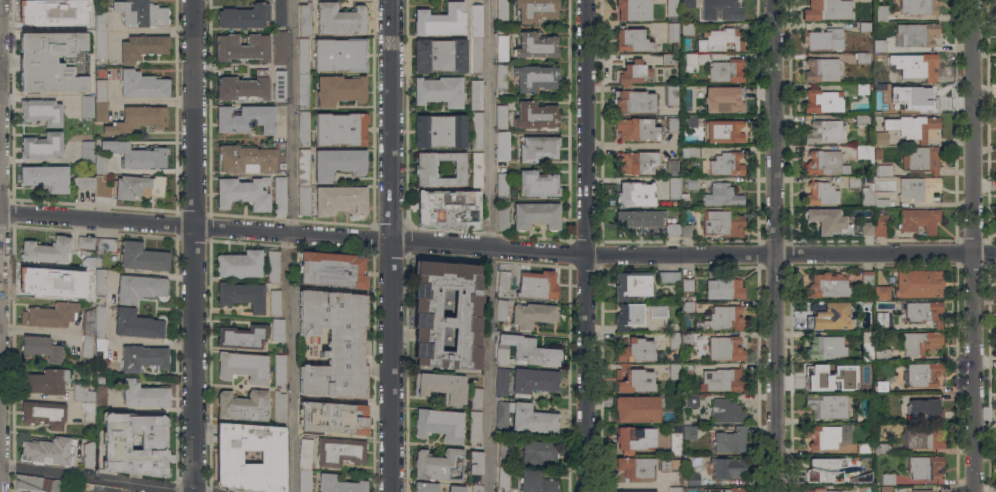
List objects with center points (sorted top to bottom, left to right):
building: (658, 0)
building: (865, 1)
building: (687, 3)
building: (915, 6)
building: (671, 8)
building: (633, 9)
building: (721, 9)
building: (536, 10)
building: (827, 10)
building: (46, 11)
building: (502, 11)
building: (280, 12)
building: (881, 12)
building: (140, 13)
building: (244, 16)
building: (88, 17)
building: (305, 19)
building: (340, 19)
building: (440, 20)
building: (100, 21)
building: (476, 21)
building: (864, 26)
building: (687, 29)
building: (672, 32)
building: (916, 34)
building: (719, 39)
building: (824, 39)
building: (633, 40)
building: (100, 44)
building: (880, 44)
building: (536, 45)
building: (141, 47)
building: (243, 47)
building: (279, 48)
building: (501, 48)
building: (340, 54)
building: (304, 55)
building: (439, 55)
building: (476, 55)
building: (862, 58)
building: (667, 59)
building: (53, 62)
building: (691, 62)
building: (920, 67)
building: (821, 69)
building: (726, 70)
building: (632, 72)
building: (882, 76)
building: (535, 77)
building: (501, 78)
building: (142, 85)
building: (279, 85)
building: (242, 88)
building: (864, 88)
building: (698, 89)
building: (99, 90)
building: (304, 90)
building: (340, 90)
building: (439, 91)
building: (671, 94)
building: (476, 95)
building: (920, 96)
building: (633, 100)
building: (823, 100)
building: (730, 101)
building: (86, 107)
building: (881, 108)
building: (100, 111)
building: (41, 112)
road: (196, 113)
building: (535, 115)
road: (292, 117)
building: (500, 117)
building: (138, 119)
building: (252, 119)
building: (861, 119)
road: (392, 121)
building: (691, 121)
building: (672, 124)
building: (911, 126)
road: (774, 127)
road: (975, 127)
building: (341, 128)
road: (587, 128)
building: (304, 129)
building: (477, 129)
building: (637, 129)
building: (439, 130)
building: (724, 131)
building: (825, 131)
building: (881, 138)
building: (502, 145)
building: (41, 146)
building: (537, 148)
building: (86, 151)
building: (690, 152)
building: (864, 152)
building: (136, 154)
building: (253, 158)
building: (920, 159)
building: (100, 162)
building: (637, 162)
building: (825, 162)
building: (338, 163)
building: (726, 164)
building: (303, 166)
building: (672, 167)
building: (424, 169)
building: (477, 169)
building: (882, 170)
building: (45, 177)
building: (853, 181)
building: (84, 182)
building: (538, 183)
building: (691, 183)
building: (103, 185)
building: (502, 186)
building: (139, 187)
building: (674, 187)
building: (919, 188)
building: (243, 193)
building: (821, 193)
building: (634, 194)
building: (279, 195)
building: (721, 195)
building: (871, 198)
building: (304, 200)
building: (339, 200)
building: (449, 209)
building: (536, 215)
building: (502, 218)
building: (827, 219)
building: (919, 219)
building: (640, 222)
building: (722, 223)
building: (880, 224)
building: (867, 228)
building: (672, 229)
building: (686, 231)
building: (86, 243)
building: (105, 244)
road: (488, 245)
road: (497, 249)
building: (46, 250)
building: (142, 257)
building: (89, 262)
building: (240, 264)
building: (273, 266)
building: (331, 271)
building: (668, 277)
building: (867, 277)
building: (47, 281)
building: (94, 281)
building: (503, 282)
building: (919, 283)
building: (537, 284)
building: (687, 284)
building: (632, 285)
building: (828, 286)
building: (140, 288)
building: (723, 288)
building: (868, 289)
building: (882, 293)
building: (241, 295)
building: (274, 303)
building: (465, 307)
building: (687, 308)
building: (501, 309)
building: (658, 311)
building: (923, 311)
building: (49, 314)
building: (532, 314)
building: (828, 315)
building: (628, 316)
building: (722, 318)
building: (881, 320)
building: (94, 321)
building: (138, 324)
building: (277, 329)
road: (38, 331)
building: (242, 337)
building: (686, 337)
building: (674, 340)
building: (920, 342)
building: (333, 343)
building: (87, 346)
building: (866, 346)
building: (41, 347)
building: (100, 348)
building: (725, 348)
building: (826, 348)
building: (635, 350)
building: (525, 351)
building: (882, 354)
building: (143, 357)
road: (196, 359)
road: (289, 362)
building: (243, 366)
road: (393, 367)
building: (687, 368)
building: (279, 370)
building: (674, 371)
road: (775, 373)
building: (827, 373)
road: (976, 373)
road: (587, 374)
building: (923, 374)
building: (501, 379)
building: (633, 379)
building: (722, 380)
building: (45, 381)
building: (533, 381)
building: (853, 385)
building: (442, 386)
building: (880, 386)
building: (144, 394)
building: (476, 398)
building: (89, 399)
building: (885, 400)
building: (691, 401)
building: (670, 402)
building: (826, 405)
building: (243, 406)
building: (279, 406)
building: (635, 409)
building: (923, 409)
building: (726, 411)
building: (44, 413)
building: (502, 415)
building: (332, 417)
building: (863, 419)
building: (532, 420)
building: (439, 424)
building: (474, 426)
building: (689, 432)
building: (827, 435)
building: (634, 438)
building: (923, 438)
building: (675, 440)
building: (730, 441)
building: (116, 442)
building: (882, 447)
building: (863, 448)
building: (503, 450)
building: (48, 451)
building: (339, 452)
building: (536, 452)
building: (304, 453)
building: (89, 454)
building: (228, 456)
building: (669, 464)
building: (439, 465)
building: (475, 467)
building: (635, 467)
building: (728, 467)
building: (925, 467)
building: (834, 471)
road: (102, 478)
building: (503, 478)
building: (693, 479)
building: (888, 479)
building: (304, 480)
building: (536, 482)
building: (38, 483)
building: (339, 484)
building: (425, 487)
building: (455, 488)
building: (476, 488)
road: (165, 489)
building: (675, 489)
building: (715, 489)
building: (885, 489)
building: (821, 490)
building: (921, 490)
building: (634, 491)

